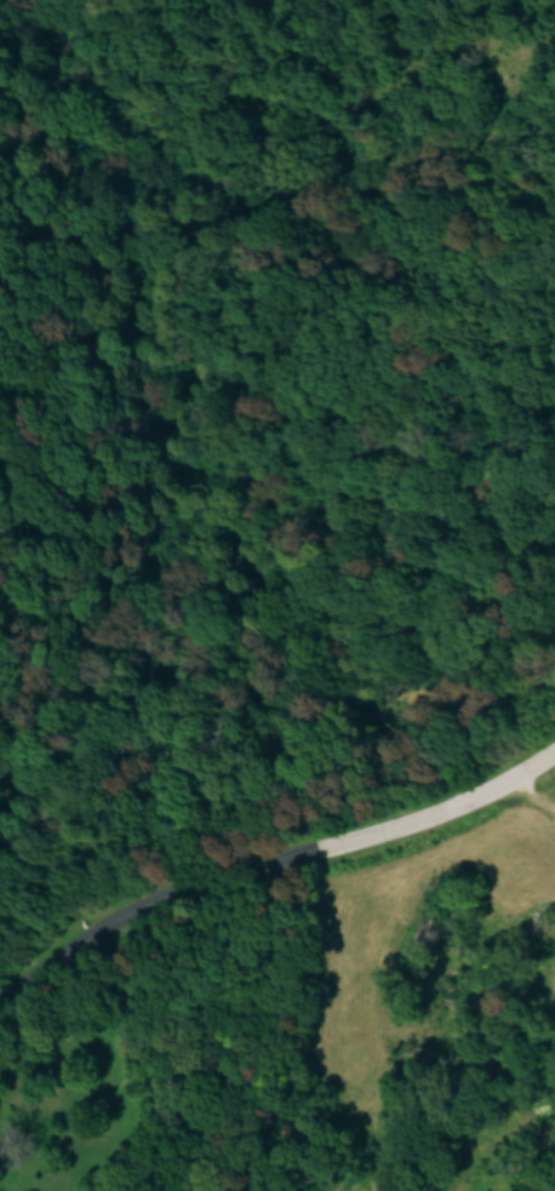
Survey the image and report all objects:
road: (528, 789)
road: (265, 853)

